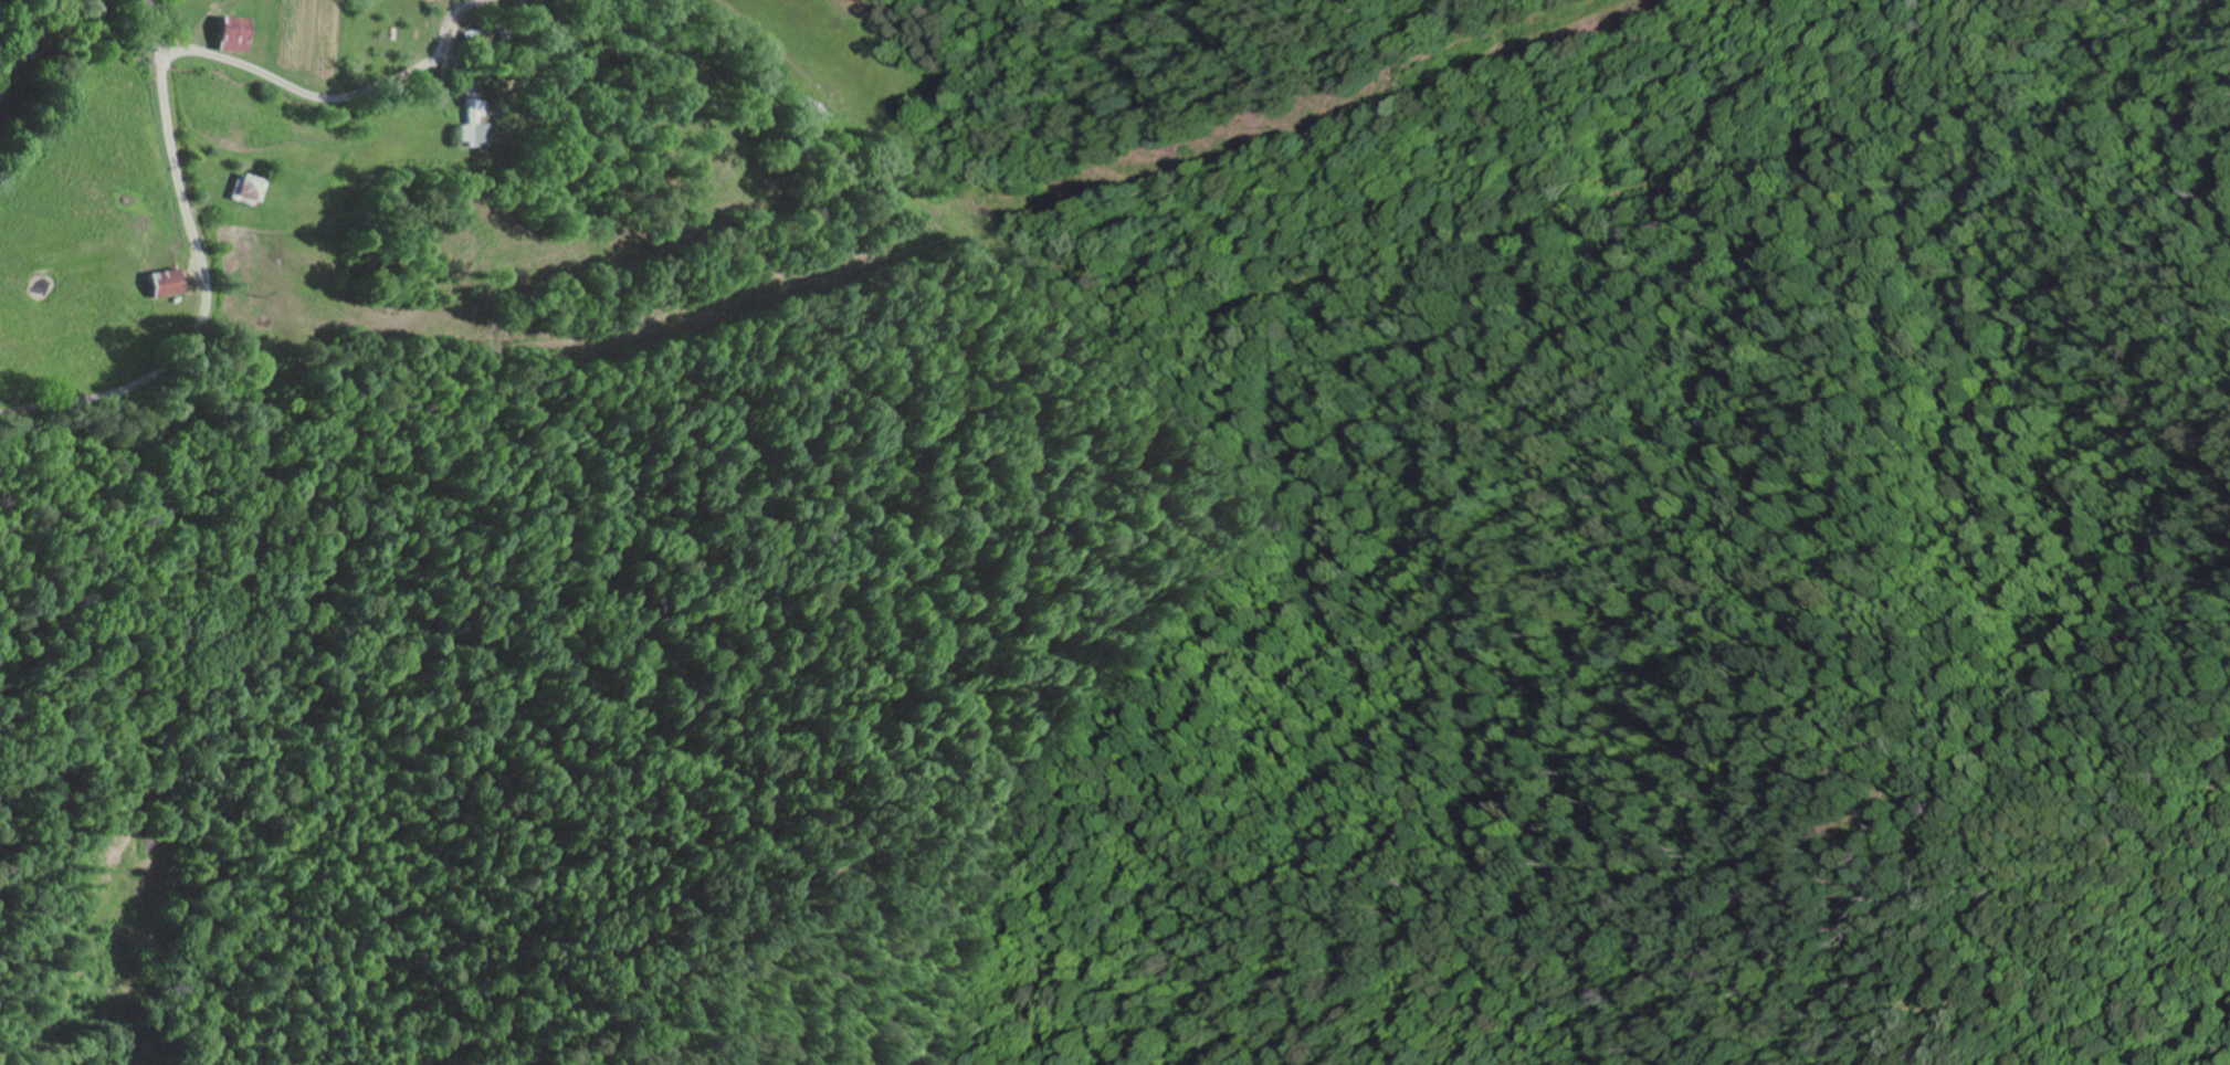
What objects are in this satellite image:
building: (229, 34)
river: (33, 55)
building: (472, 122)
building: (243, 189)
road: (202, 273)
building: (160, 282)

